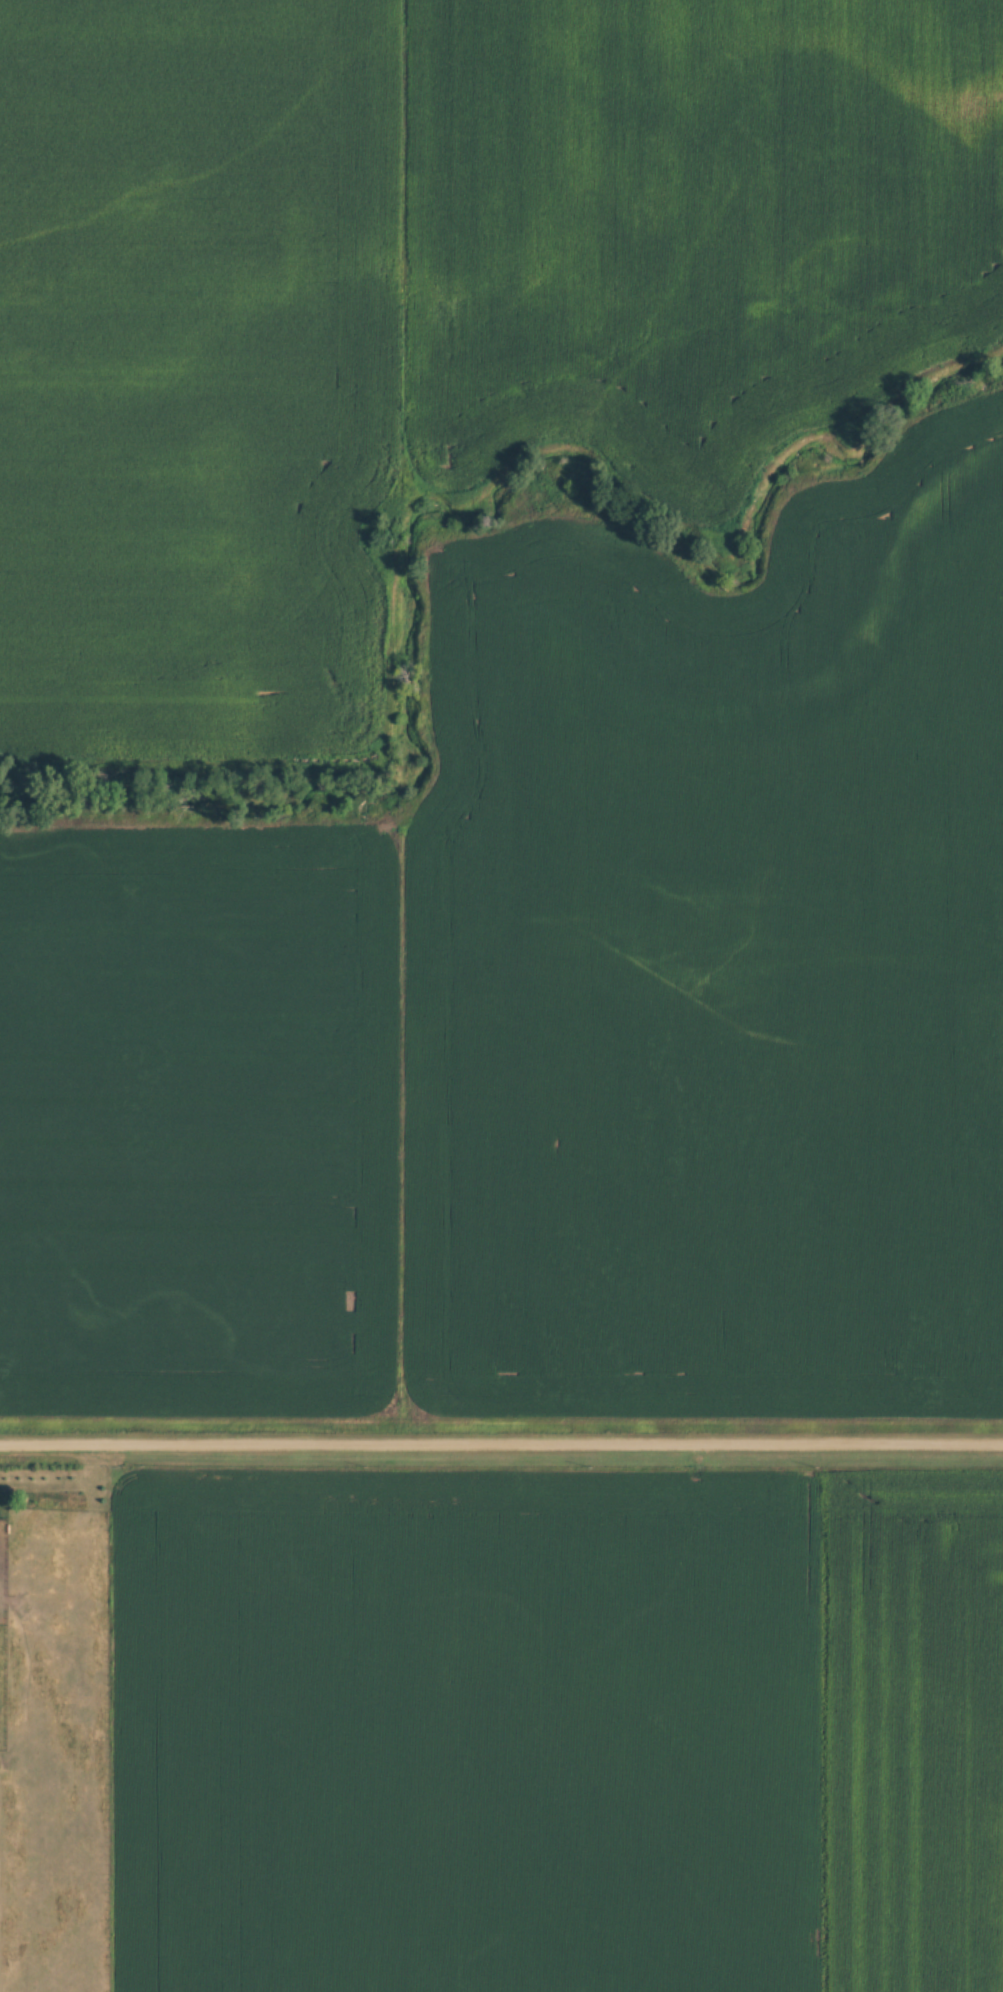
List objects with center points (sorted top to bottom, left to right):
road: (501, 1443)

